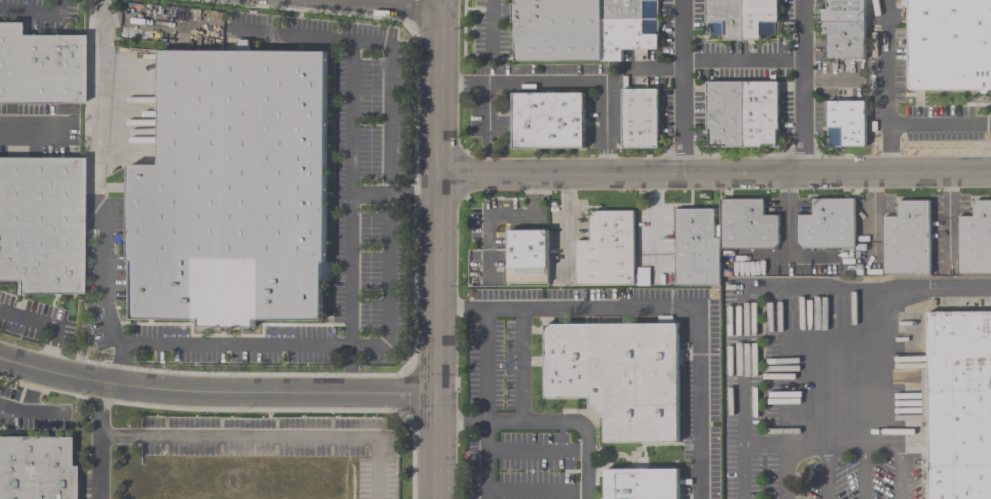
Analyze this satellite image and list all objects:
road: (416, 2)
road: (59, 6)
road: (29, 10)
building: (743, 18)
road: (490, 25)
building: (581, 29)
building: (843, 29)
road: (312, 36)
building: (950, 43)
road: (744, 61)
building: (39, 67)
road: (831, 78)
road: (571, 80)
road: (802, 87)
road: (888, 87)
road: (685, 91)
building: (742, 115)
building: (640, 119)
building: (548, 120)
building: (845, 124)
road: (940, 124)
road: (31, 130)
road: (714, 181)
building: (232, 192)
road: (387, 194)
road: (104, 195)
road: (437, 196)
road: (511, 213)
road: (350, 215)
road: (653, 222)
building: (41, 225)
building: (826, 225)
road: (567, 228)
building: (719, 237)
building: (975, 238)
building: (907, 240)
building: (606, 249)
building: (527, 251)
road: (490, 263)
road: (663, 305)
road: (27, 317)
road: (741, 319)
road: (868, 336)
road: (250, 344)
road: (49, 347)
building: (618, 376)
road: (215, 392)
road: (27, 401)
road: (485, 402)
building: (958, 404)
road: (101, 409)
road: (44, 412)
road: (865, 419)
road: (546, 422)
road: (270, 436)
road: (434, 446)
road: (826, 456)
road: (100, 467)
building: (35, 468)
road: (784, 472)
building: (641, 484)

